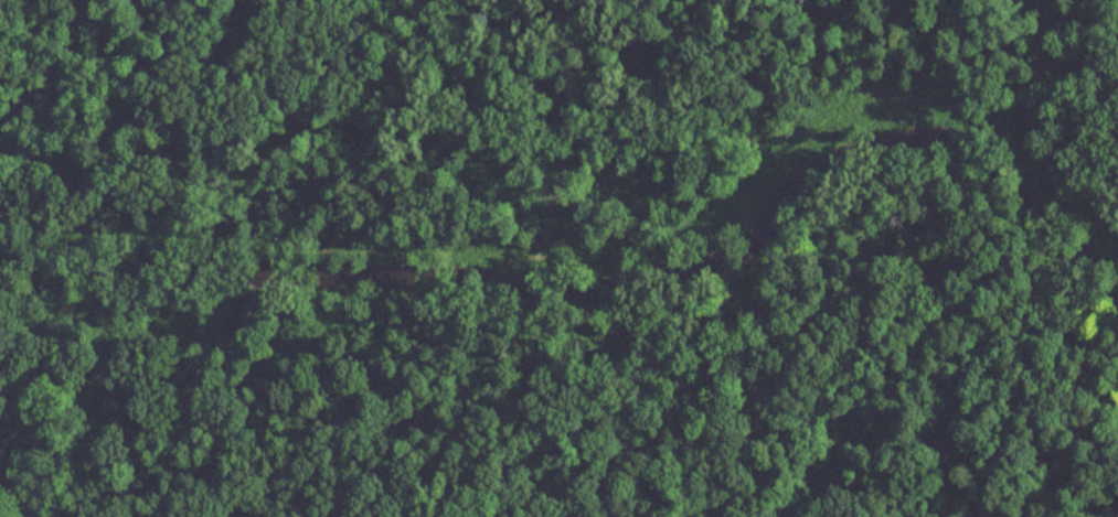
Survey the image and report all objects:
river: (611, 279)

